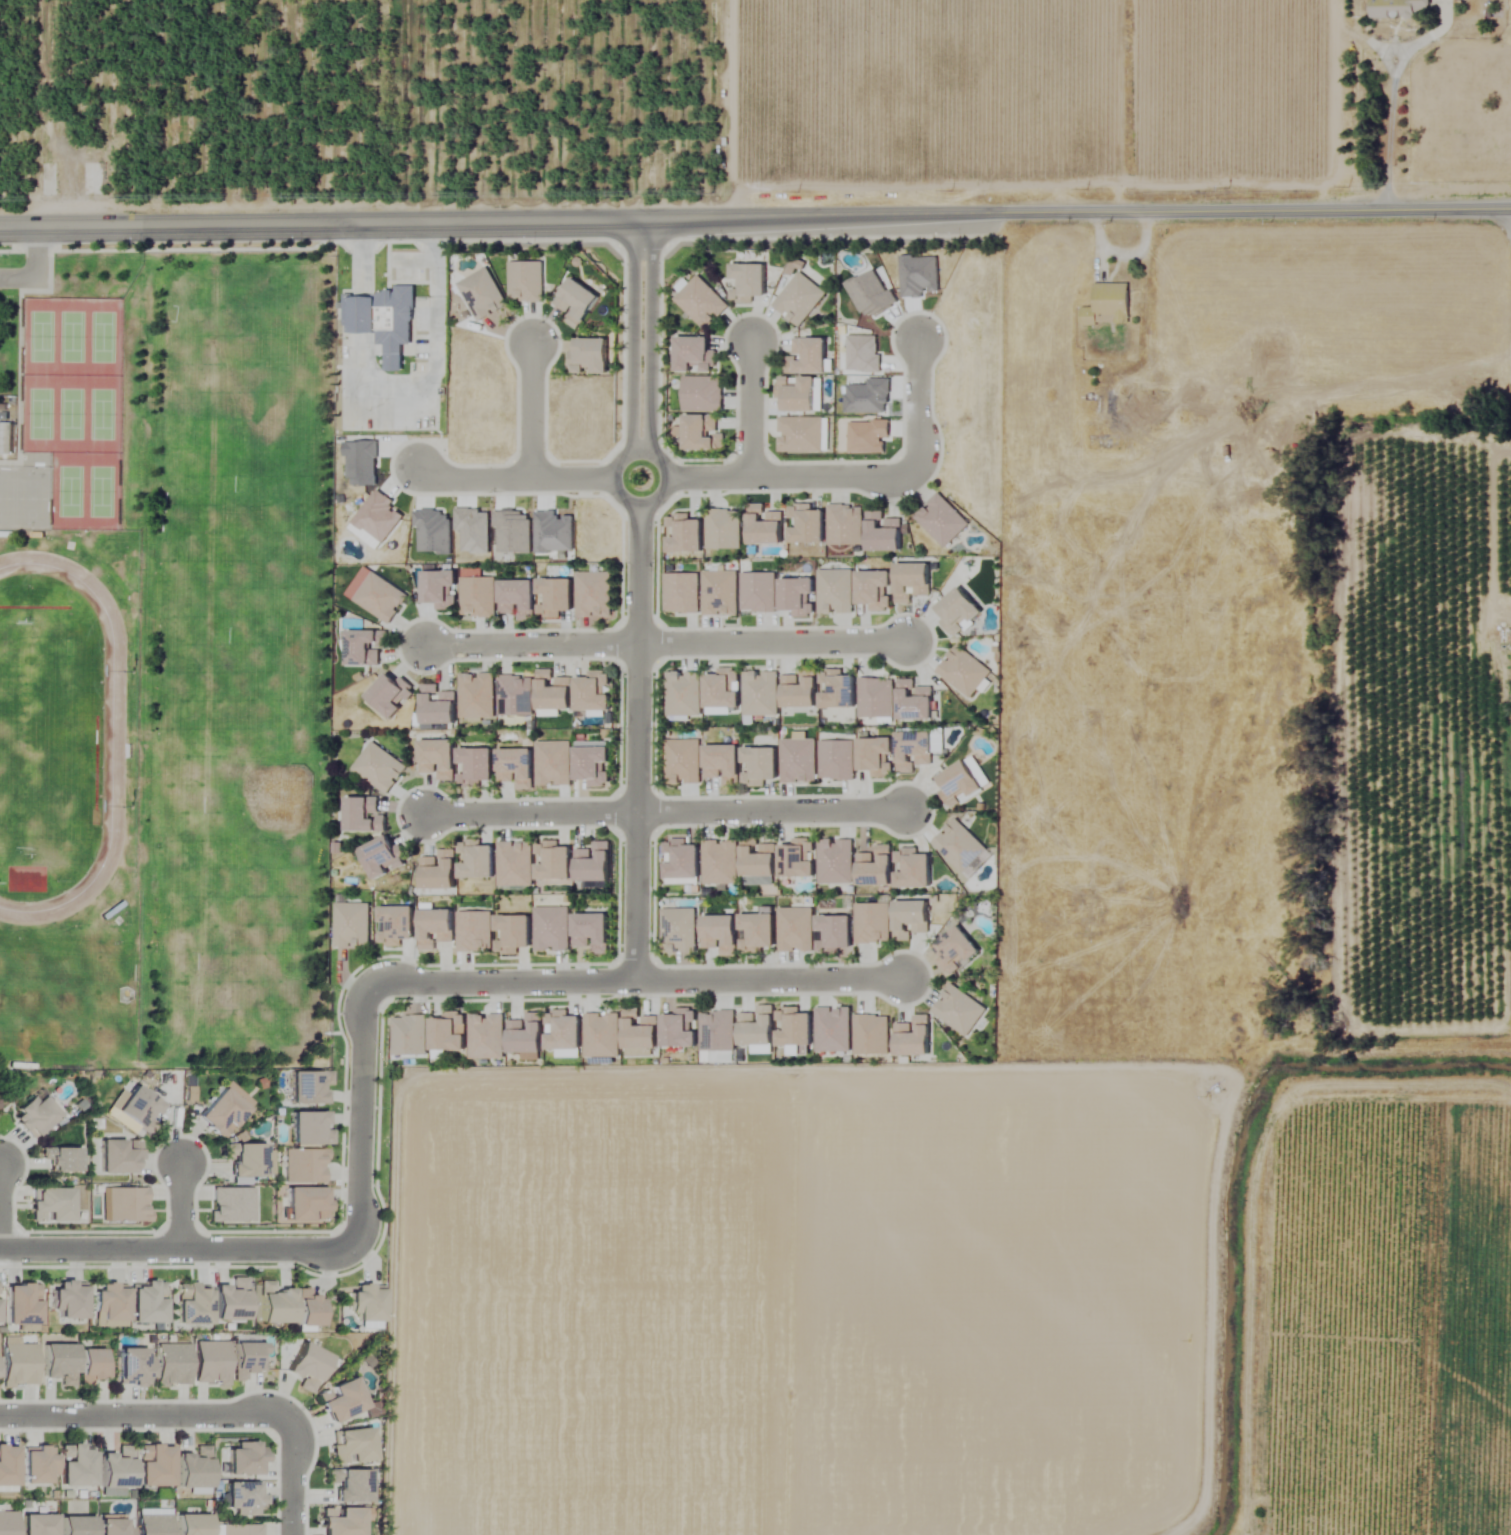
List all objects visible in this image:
building: (1400, 8)
road: (1391, 138)
road: (755, 218)
road: (361, 249)
road: (36, 265)
building: (526, 281)
building: (750, 282)
road: (436, 292)
building: (483, 295)
building: (800, 299)
building: (578, 302)
building: (702, 302)
building: (1108, 305)
building: (383, 321)
park: (38, 333)
park: (71, 333)
park: (103, 333)
building: (695, 354)
building: (808, 356)
building: (591, 357)
building: (703, 394)
building: (798, 394)
road: (917, 405)
park: (38, 410)
park: (70, 410)
park: (103, 410)
road: (749, 410)
road: (531, 412)
building: (1109, 413)
building: (703, 434)
building: (800, 435)
building: (5, 438)
road: (776, 477)
road: (525, 478)
park: (68, 487)
park: (102, 487)
park: (6, 493)
park: (31, 494)
building: (941, 520)
building: (807, 525)
building: (846, 525)
building: (766, 526)
building: (724, 529)
building: (884, 533)
building: (686, 534)
building: (913, 581)
building: (441, 588)
building: (875, 589)
building: (836, 591)
building: (681, 592)
building: (758, 592)
building: (720, 593)
building: (594, 594)
building: (478, 596)
building: (798, 596)
building: (381, 597)
building: (556, 597)
building: (518, 598)
road: (639, 599)
building: (959, 611)
road: (772, 645)
building: (365, 646)
road: (532, 647)
building: (963, 671)
building: (724, 689)
building: (801, 689)
building: (839, 689)
building: (554, 690)
building: (594, 691)
building: (684, 693)
building: (761, 693)
building: (392, 694)
building: (516, 694)
building: (477, 695)
building: (876, 697)
building: (915, 700)
building: (439, 705)
building: (914, 750)
building: (877, 756)
building: (439, 758)
building: (799, 760)
building: (837, 760)
building: (683, 761)
building: (554, 762)
building: (724, 763)
building: (594, 765)
building: (762, 765)
building: (476, 766)
building: (380, 767)
building: (517, 767)
building: (963, 782)
road: (770, 814)
building: (365, 815)
road: (530, 816)
building: (960, 846)
building: (385, 857)
building: (759, 858)
building: (683, 859)
building: (798, 859)
building: (477, 860)
building: (554, 861)
building: (836, 861)
building: (595, 862)
building: (720, 862)
building: (515, 863)
building: (877, 867)
building: (914, 869)
building: (440, 871)
crop: (1108, 871)
building: (911, 918)
building: (873, 923)
building: (352, 925)
building: (397, 925)
building: (437, 928)
building: (552, 929)
building: (796, 929)
building: (679, 930)
building: (475, 931)
building: (592, 932)
building: (758, 932)
building: (514, 933)
building: (721, 934)
building: (835, 934)
building: (957, 951)
road: (768, 981)
road: (502, 983)
building: (959, 1010)
building: (795, 1027)
building: (681, 1028)
building: (757, 1028)
building: (833, 1029)
building: (718, 1030)
building: (564, 1031)
building: (641, 1031)
building: (448, 1033)
building: (527, 1034)
building: (872, 1034)
building: (602, 1035)
building: (410, 1036)
building: (487, 1036)
building: (915, 1037)
building: (308, 1087)
building: (139, 1110)
building: (222, 1113)
road: (361, 1115)
building: (35, 1116)
building: (310, 1129)
building: (119, 1156)
building: (60, 1158)
building: (245, 1159)
building: (303, 1166)
building: (126, 1205)
building: (231, 1205)
building: (306, 1205)
building: (50, 1206)
road: (178, 1206)
road: (177, 1248)
building: (69, 1300)
building: (111, 1302)
building: (231, 1302)
building: (147, 1303)
building: (275, 1304)
building: (366, 1304)
building: (21, 1305)
building: (192, 1305)
building: (309, 1309)
building: (247, 1359)
building: (211, 1363)
building: (18, 1364)
building: (59, 1364)
building: (172, 1365)
building: (93, 1366)
building: (134, 1367)
building: (308, 1367)
building: (343, 1401)
road: (145, 1419)
building: (352, 1447)
building: (246, 1460)
building: (37, 1465)
building: (154, 1466)
building: (7, 1468)
building: (77, 1468)
building: (117, 1469)
building: (194, 1470)
road: (292, 1477)
building: (350, 1486)
building: (243, 1498)
building: (342, 1522)
building: (8, 1523)
building: (37, 1525)
building: (153, 1525)
building: (76, 1526)
building: (112, 1526)
building: (241, 1530)

